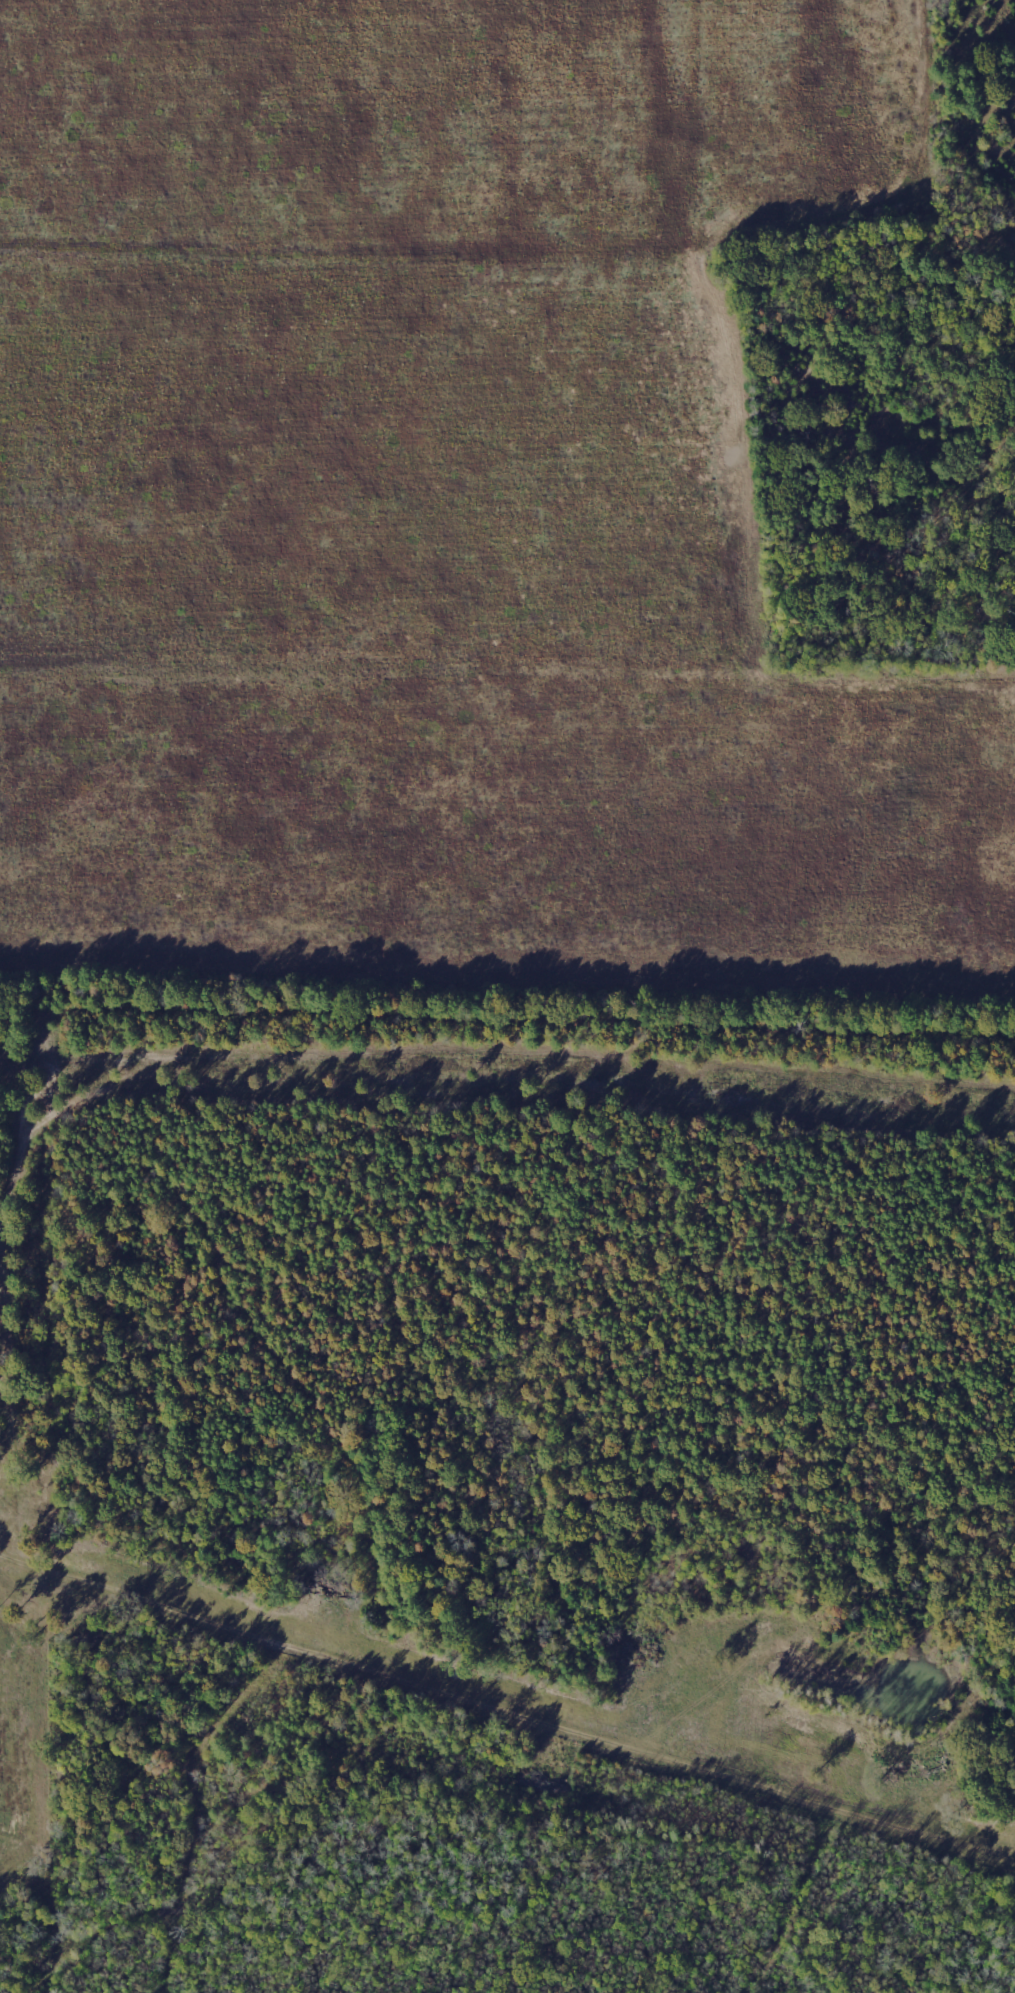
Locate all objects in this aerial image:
road: (507, 1698)

